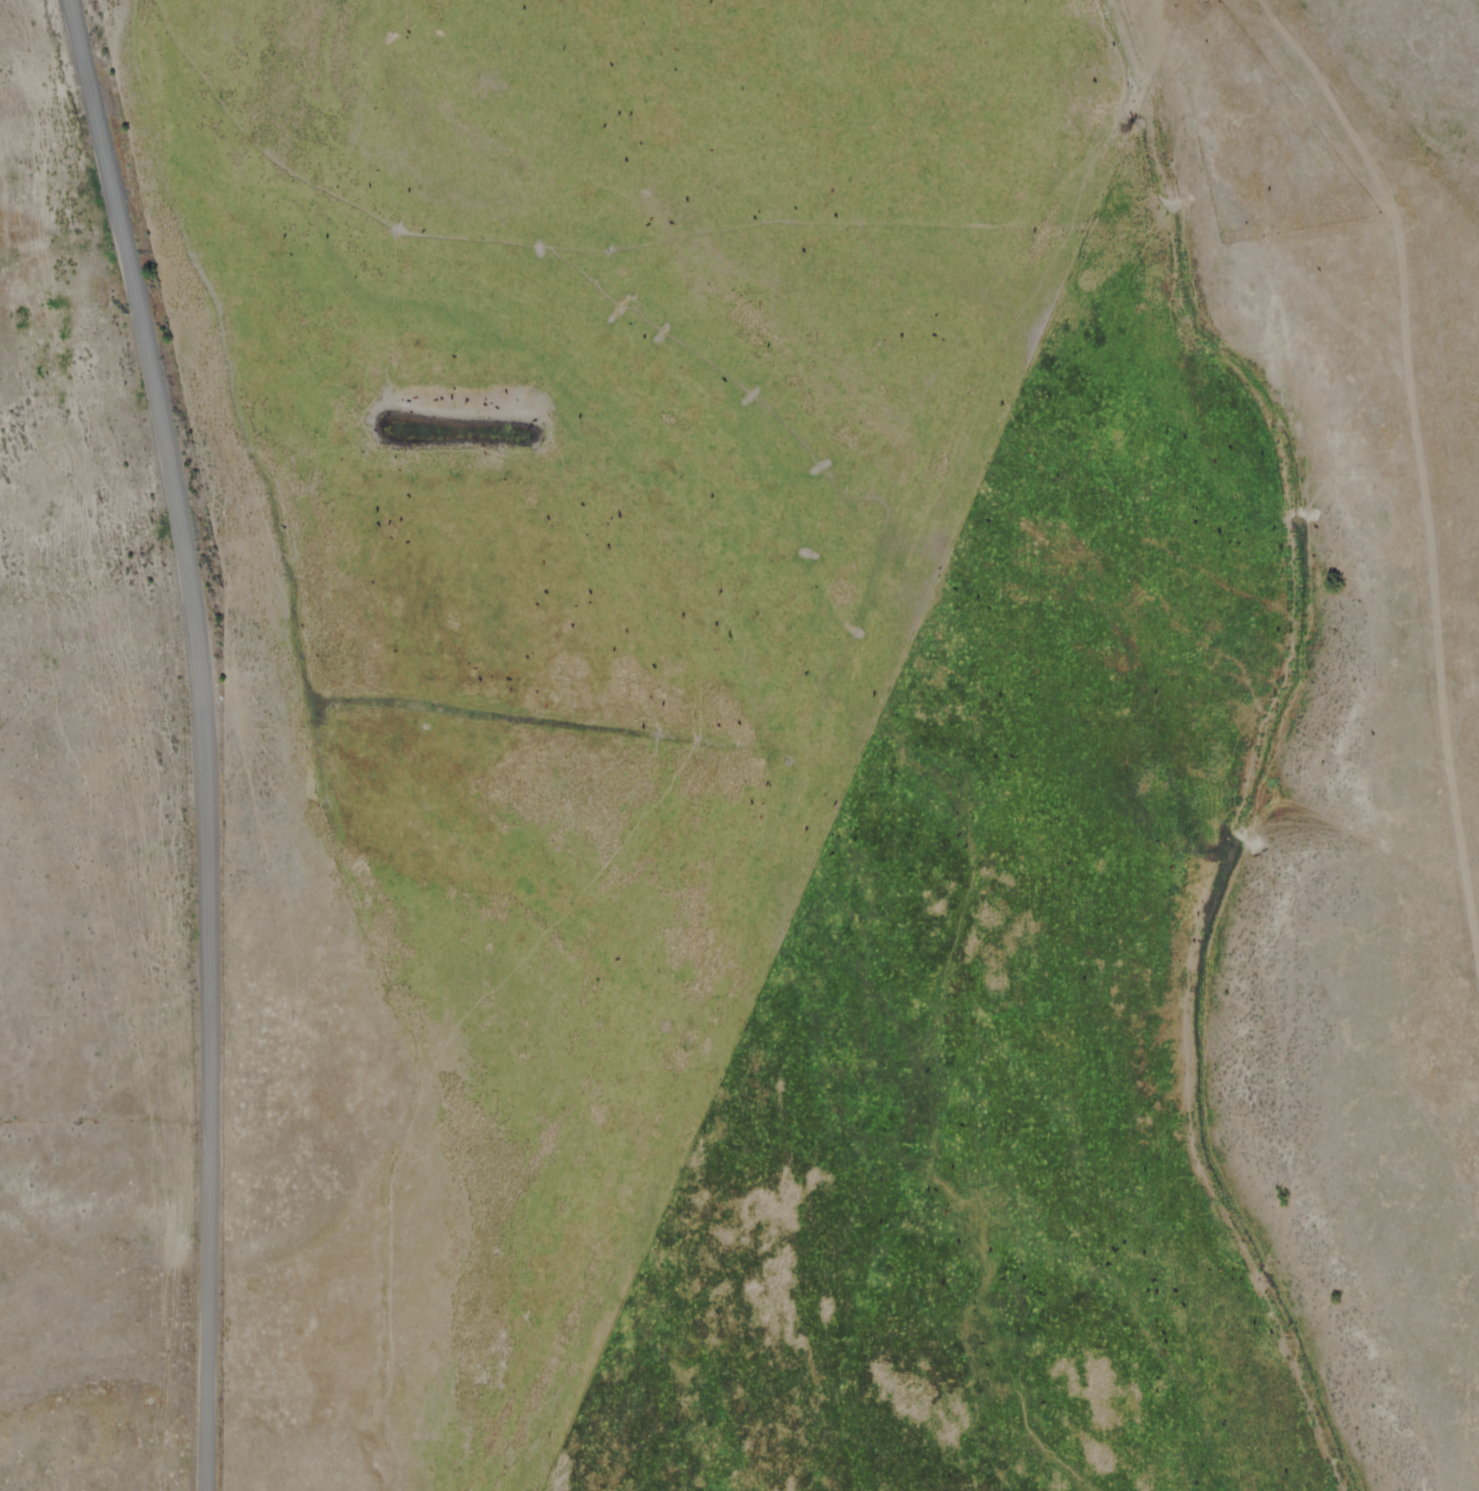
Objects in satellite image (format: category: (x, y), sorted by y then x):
road: (201, 739)

